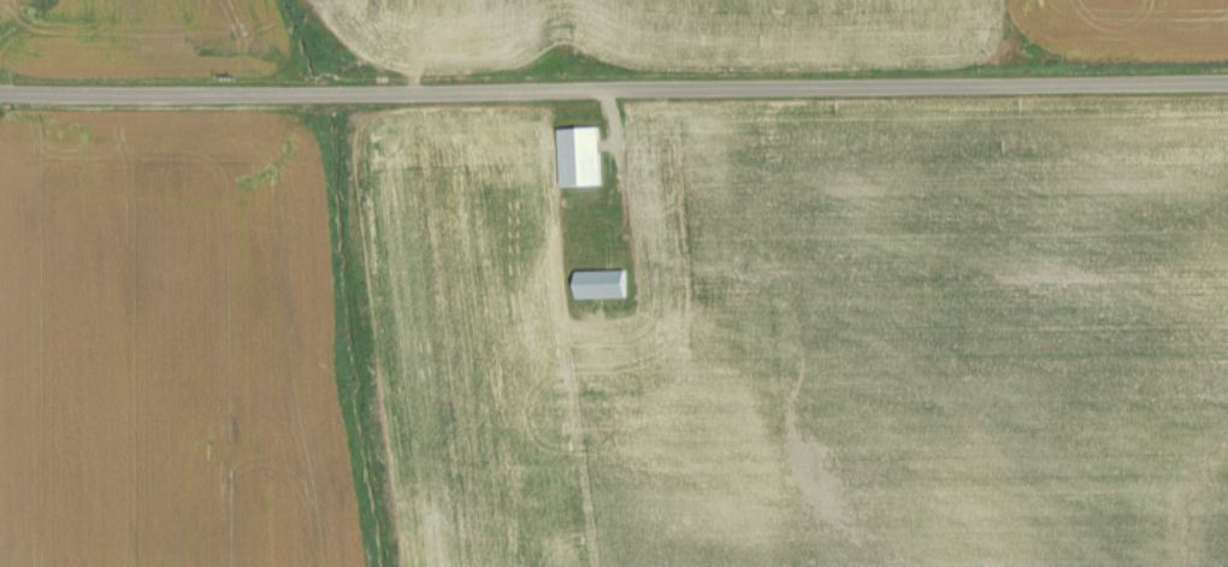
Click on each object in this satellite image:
road: (613, 88)
building: (585, 158)
building: (607, 285)
crop: (170, 347)

